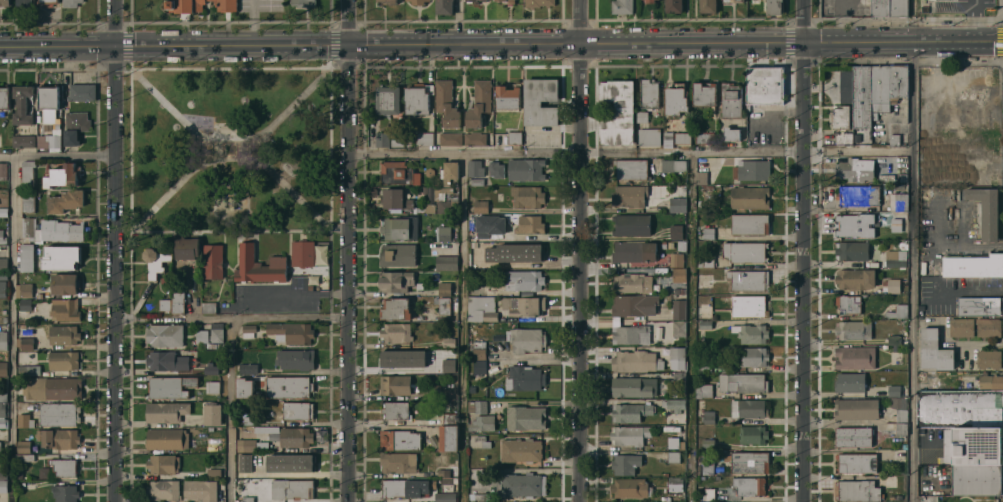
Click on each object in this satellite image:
building: (419, 0)
building: (469, 0)
building: (473, 0)
building: (650, 0)
building: (738, 0)
building: (386, 1)
building: (418, 1)
building: (475, 1)
building: (498, 1)
building: (508, 1)
building: (4, 2)
building: (23, 2)
building: (48, 2)
building: (69, 2)
building: (303, 2)
building: (537, 2)
building: (225, 4)
building: (184, 5)
building: (673, 5)
building: (707, 5)
building: (443, 6)
building: (621, 6)
building: (774, 7)
building: (881, 7)
building: (898, 7)
road: (806, 22)
road: (252, 23)
road: (501, 45)
building: (765, 84)
building: (876, 88)
building: (81, 91)
building: (648, 92)
building: (704, 92)
building: (4, 95)
building: (47, 95)
building: (507, 96)
building: (417, 97)
building: (675, 97)
building: (730, 98)
building: (539, 100)
building: (388, 101)
building: (445, 102)
building: (478, 102)
building: (21, 104)
building: (617, 111)
building: (641, 115)
building: (841, 123)
building: (74, 125)
building: (230, 128)
building: (731, 132)
building: (893, 133)
building: (648, 135)
building: (514, 136)
building: (704, 136)
building: (396, 137)
building: (423, 137)
building: (474, 137)
building: (682, 137)
building: (381, 138)
building: (449, 138)
building: (667, 138)
building: (22, 140)
building: (53, 140)
road: (246, 141)
building: (408, 141)
road: (242, 150)
road: (215, 151)
park: (230, 151)
road: (375, 153)
road: (716, 153)
road: (462, 154)
road: (56, 158)
road: (229, 159)
building: (666, 164)
building: (679, 164)
building: (474, 167)
building: (630, 167)
building: (495, 168)
building: (524, 168)
building: (753, 168)
building: (854, 168)
building: (449, 169)
building: (2, 170)
building: (397, 172)
building: (26, 173)
building: (62, 174)
building: (701, 176)
building: (901, 176)
building: (476, 180)
building: (709, 187)
building: (423, 188)
building: (448, 191)
building: (857, 194)
building: (628, 195)
building: (527, 196)
building: (748, 196)
building: (394, 198)
building: (27, 200)
building: (65, 200)
building: (897, 201)
building: (677, 203)
building: (442, 205)
building: (480, 205)
building: (414, 208)
building: (985, 210)
building: (3, 211)
building: (897, 220)
building: (529, 223)
building: (630, 223)
building: (749, 223)
building: (489, 224)
building: (855, 224)
building: (28, 226)
building: (399, 227)
building: (60, 229)
building: (675, 230)
building: (442, 232)
building: (707, 232)
building: (2, 236)
building: (669, 243)
building: (662, 244)
building: (680, 244)
building: (185, 246)
road: (946, 246)
building: (852, 249)
road: (346, 250)
building: (528, 250)
road: (579, 250)
building: (634, 250)
building: (744, 250)
road: (113, 251)
road: (913, 251)
building: (302, 252)
building: (397, 254)
building: (26, 256)
building: (60, 256)
building: (895, 257)
building: (676, 258)
building: (155, 260)
building: (212, 260)
building: (475, 260)
building: (706, 260)
building: (445, 261)
building: (972, 264)
building: (258, 265)
building: (3, 266)
building: (678, 273)
road: (804, 273)
building: (3, 275)
building: (854, 277)
building: (317, 278)
building: (748, 278)
building: (523, 279)
building: (394, 280)
building: (630, 281)
building: (64, 282)
building: (418, 284)
building: (890, 284)
building: (310, 285)
building: (2, 288)
building: (444, 288)
building: (24, 289)
road: (295, 293)
building: (177, 301)
building: (504, 302)
building: (848, 302)
building: (24, 303)
building: (163, 303)
building: (443, 304)
building: (749, 304)
building: (979, 304)
building: (525, 305)
building: (633, 305)
building: (207, 306)
building: (395, 307)
building: (481, 308)
building: (678, 308)
building: (65, 309)
building: (897, 310)
building: (4, 318)
road: (229, 318)
building: (705, 324)
building: (961, 326)
building: (987, 326)
building: (678, 327)
road: (462, 328)
road: (690, 328)
building: (852, 328)
building: (248, 329)
road: (12, 330)
building: (215, 331)
building: (291, 331)
building: (395, 331)
building: (751, 332)
building: (63, 333)
building: (630, 333)
building: (164, 334)
building: (201, 336)
building: (893, 338)
building: (3, 339)
building: (526, 339)
building: (447, 340)
building: (24, 342)
building: (219, 345)
building: (895, 347)
building: (933, 349)
building: (478, 351)
building: (201, 355)
building: (444, 356)
building: (752, 356)
building: (854, 356)
building: (677, 357)
building: (987, 357)
building: (295, 358)
building: (393, 358)
building: (62, 359)
building: (166, 360)
building: (634, 360)
building: (703, 364)
building: (448, 365)
building: (478, 366)
building: (3, 367)
building: (209, 367)
building: (247, 367)
building: (28, 368)
building: (677, 375)
building: (524, 377)
building: (990, 380)
building: (742, 381)
building: (849, 381)
building: (394, 383)
building: (170, 385)
building: (287, 385)
building: (436, 385)
building: (633, 385)
building: (213, 386)
building: (51, 387)
building: (243, 387)
building: (703, 389)
building: (893, 389)
building: (258, 391)
building: (434, 393)
building: (3, 396)
building: (898, 402)
building: (672, 403)
building: (447, 405)
building: (477, 405)
building: (748, 407)
building: (856, 407)
building: (960, 408)
building: (296, 409)
building: (395, 409)
building: (166, 410)
road: (229, 410)
building: (630, 410)
building: (2, 413)
building: (58, 413)
building: (212, 413)
building: (900, 414)
building: (708, 415)
building: (524, 416)
building: (448, 418)
building: (24, 419)
building: (248, 419)
building: (481, 422)
building: (900, 428)
building: (245, 431)
building: (752, 433)
building: (629, 434)
building: (321, 435)
building: (853, 435)
building: (295, 436)
building: (57, 437)
building: (166, 437)
building: (447, 437)
building: (399, 438)
building: (482, 440)
building: (672, 441)
building: (707, 441)
building: (245, 444)
building: (22, 445)
building: (972, 445)
building: (520, 449)
building: (898, 454)
building: (672, 455)
building: (23, 456)
building: (438, 457)
building: (397, 461)
building: (749, 461)
building: (856, 461)
building: (245, 462)
building: (291, 462)
building: (624, 462)
building: (163, 463)
building: (63, 466)
building: (707, 466)
building: (447, 470)
building: (213, 471)
building: (3, 474)
building: (976, 478)
building: (890, 480)
building: (522, 483)
building: (675, 483)
building: (749, 484)
building: (3, 485)
building: (399, 485)
building: (630, 486)
building: (291, 487)
building: (163, 489)
building: (200, 489)
building: (858, 489)
building: (65, 492)
building: (708, 493)
building: (479, 495)
building: (898, 495)
building: (444, 496)
building: (890, 496)
building: (698, 497)
building: (247, 498)
building: (488, 498)
building: (704, 501)

